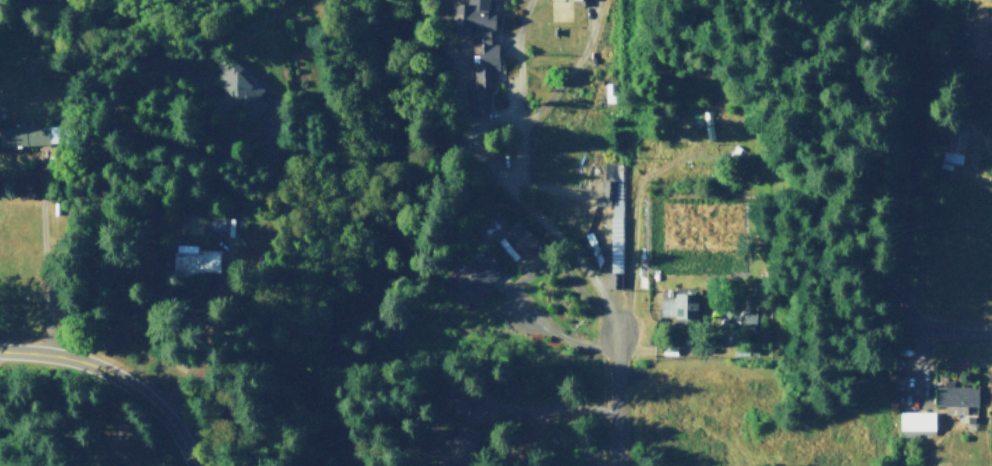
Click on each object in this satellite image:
building: (983, 33)
building: (482, 34)
building: (238, 84)
building: (34, 133)
building: (957, 143)
building: (218, 220)
building: (522, 235)
road: (900, 247)
building: (199, 260)
building: (475, 278)
road: (116, 376)
building: (958, 396)
road: (619, 400)
building: (919, 419)
building: (463, 443)

